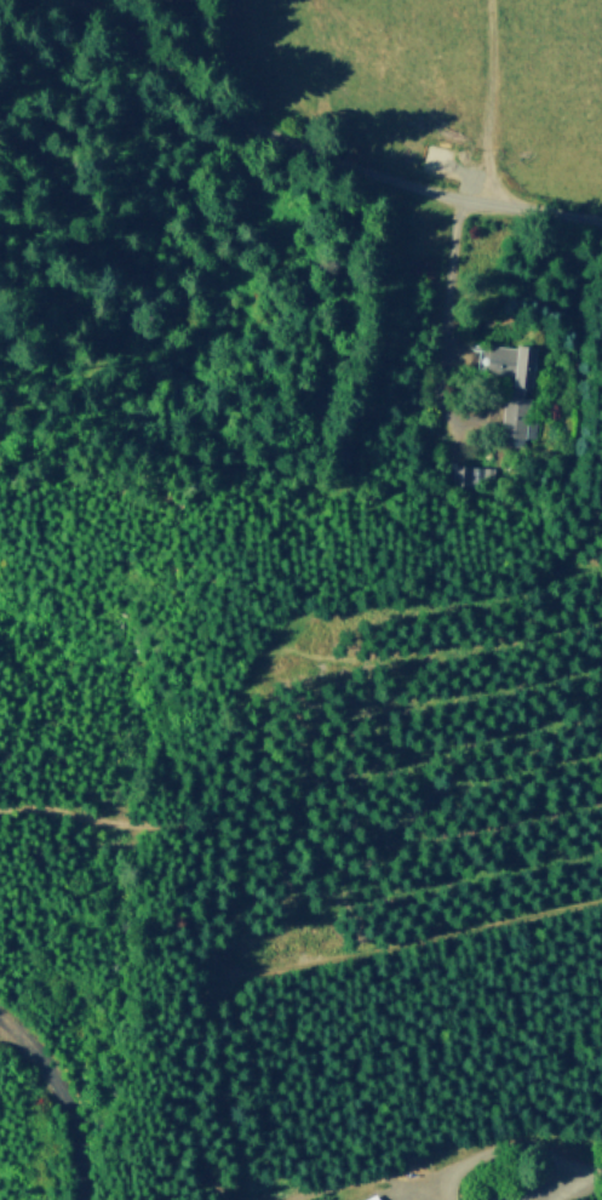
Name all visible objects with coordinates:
road: (138, 21)
road: (495, 109)
road: (319, 152)
road: (438, 350)
building: (514, 384)
building: (466, 469)
road: (64, 1097)
road: (510, 1147)
road: (601, 1173)
road: (352, 1181)
road: (573, 1183)
road: (423, 1185)
building: (375, 1198)

